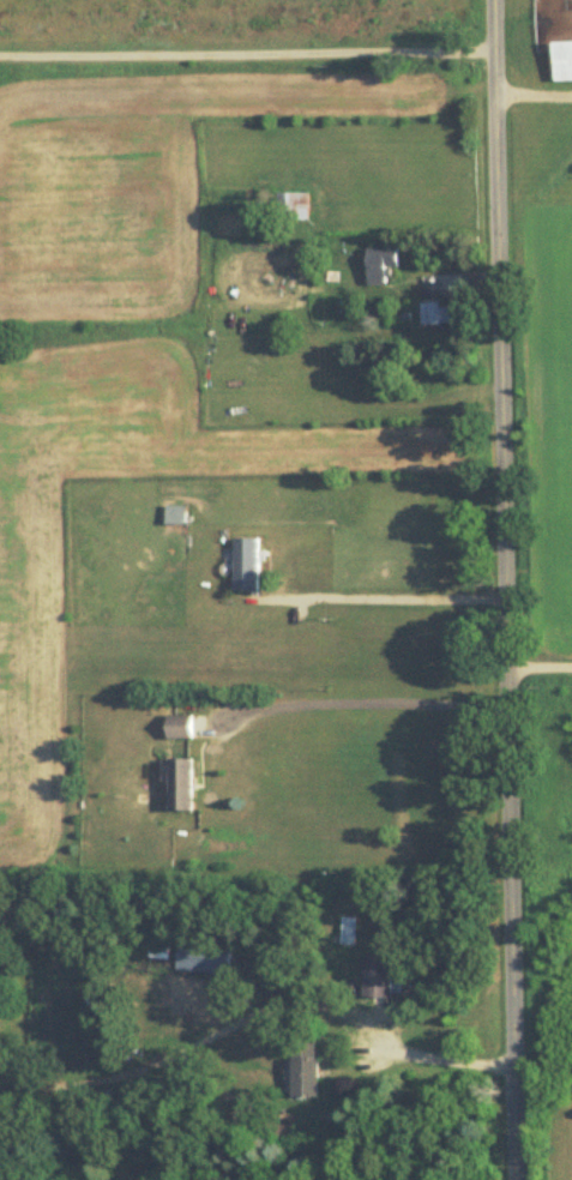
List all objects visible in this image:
road: (252, 52)
building: (562, 61)
road: (540, 95)
building: (291, 206)
building: (381, 265)
building: (435, 313)
building: (246, 564)
road: (508, 589)
road: (385, 597)
road: (541, 666)
road: (368, 703)
building: (182, 726)
building: (182, 783)
building: (347, 931)
building: (161, 949)
building: (204, 958)
building: (375, 976)
road: (392, 1041)
building: (305, 1068)

